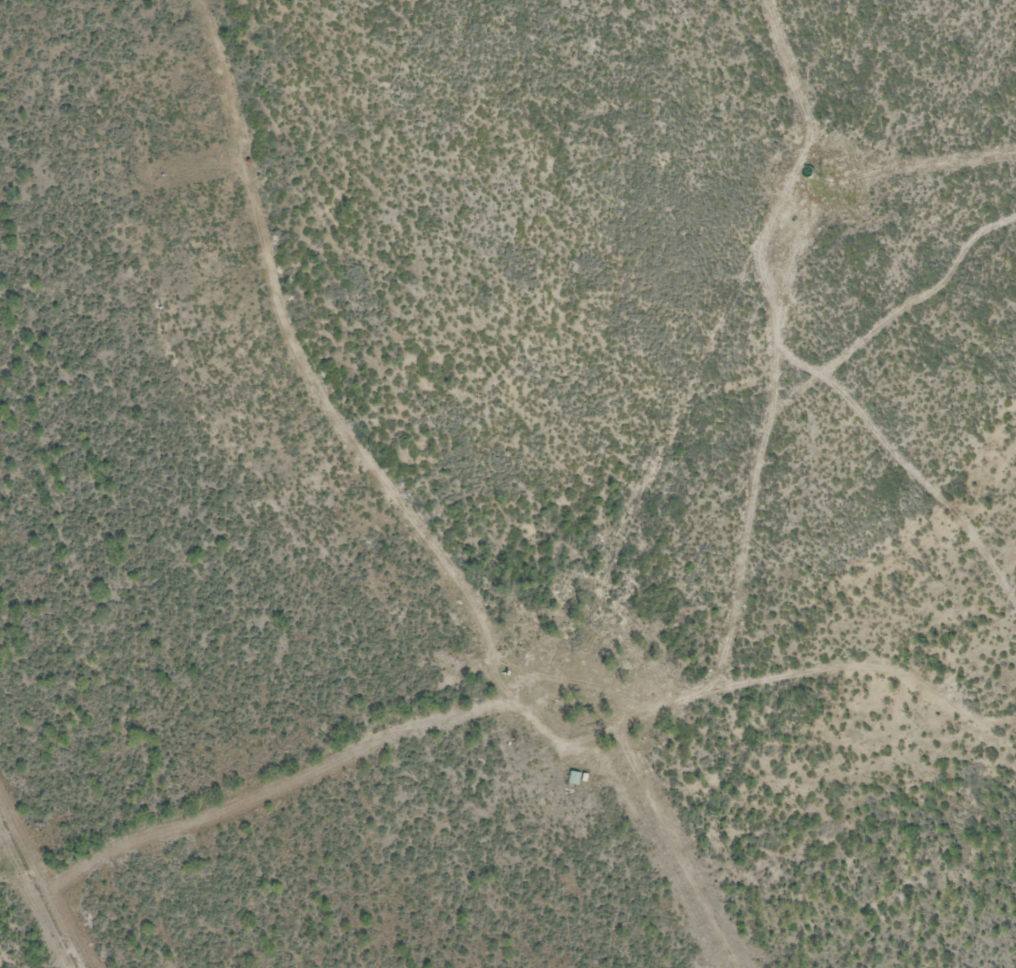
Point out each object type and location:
road: (916, 303)
road: (860, 410)
road: (646, 669)

